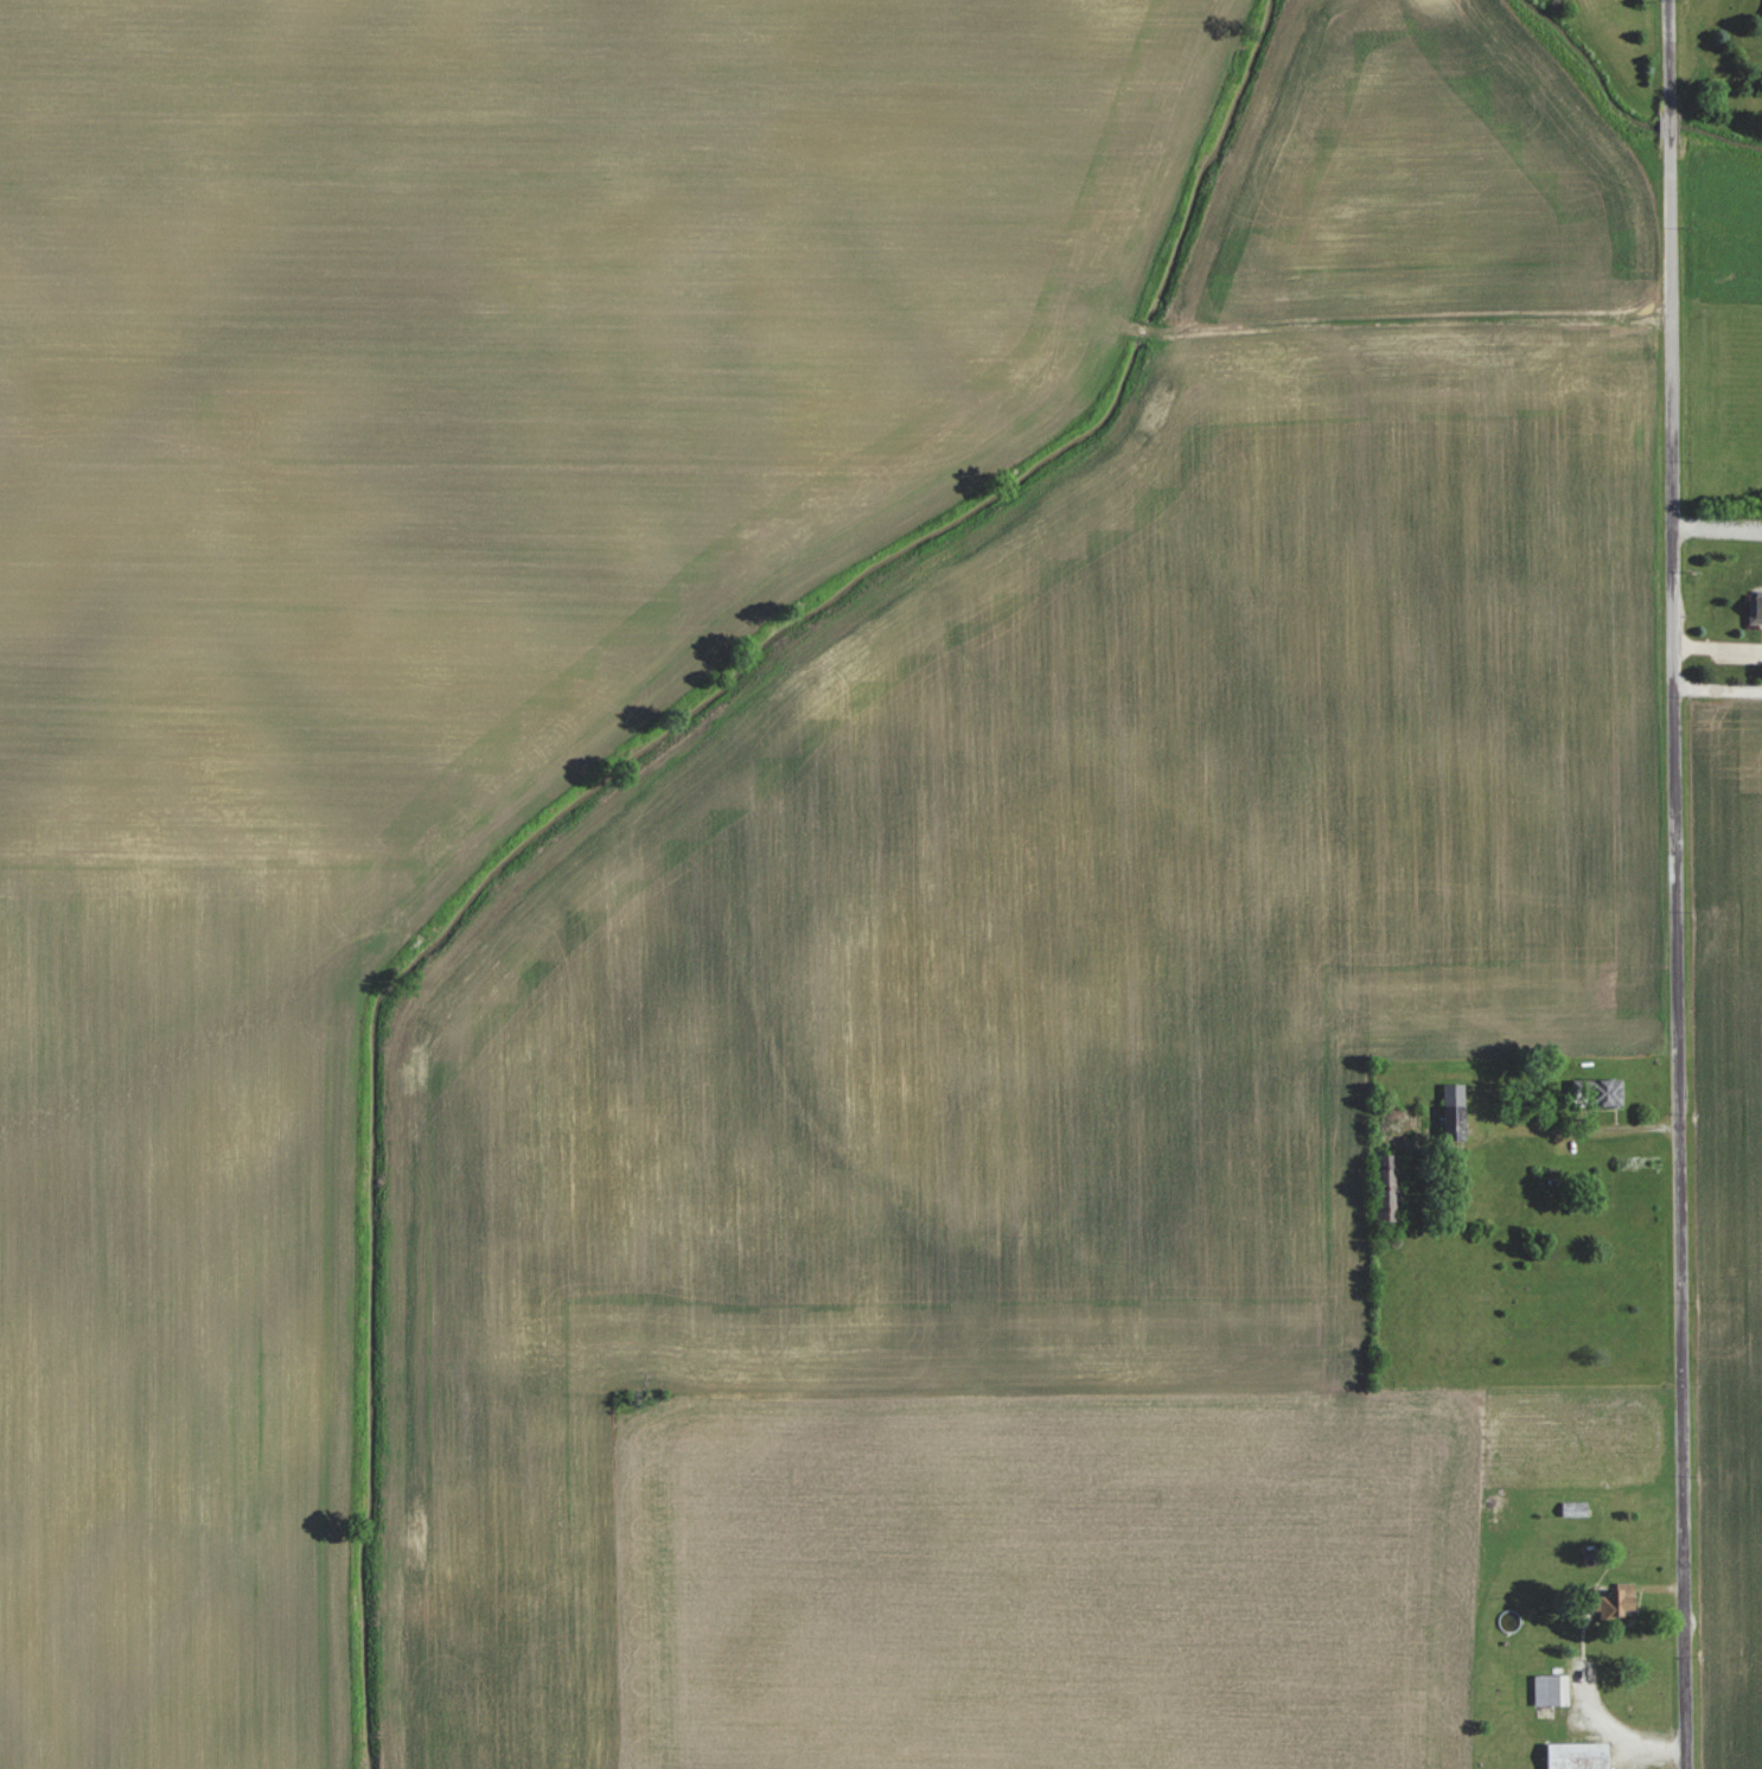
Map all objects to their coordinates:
building: (1755, 608)
road: (1675, 883)
building: (1598, 1093)
building: (1454, 1112)
building: (1385, 1187)
building: (1573, 1508)
building: (1611, 1599)
building: (1550, 1691)
building: (1577, 1756)

